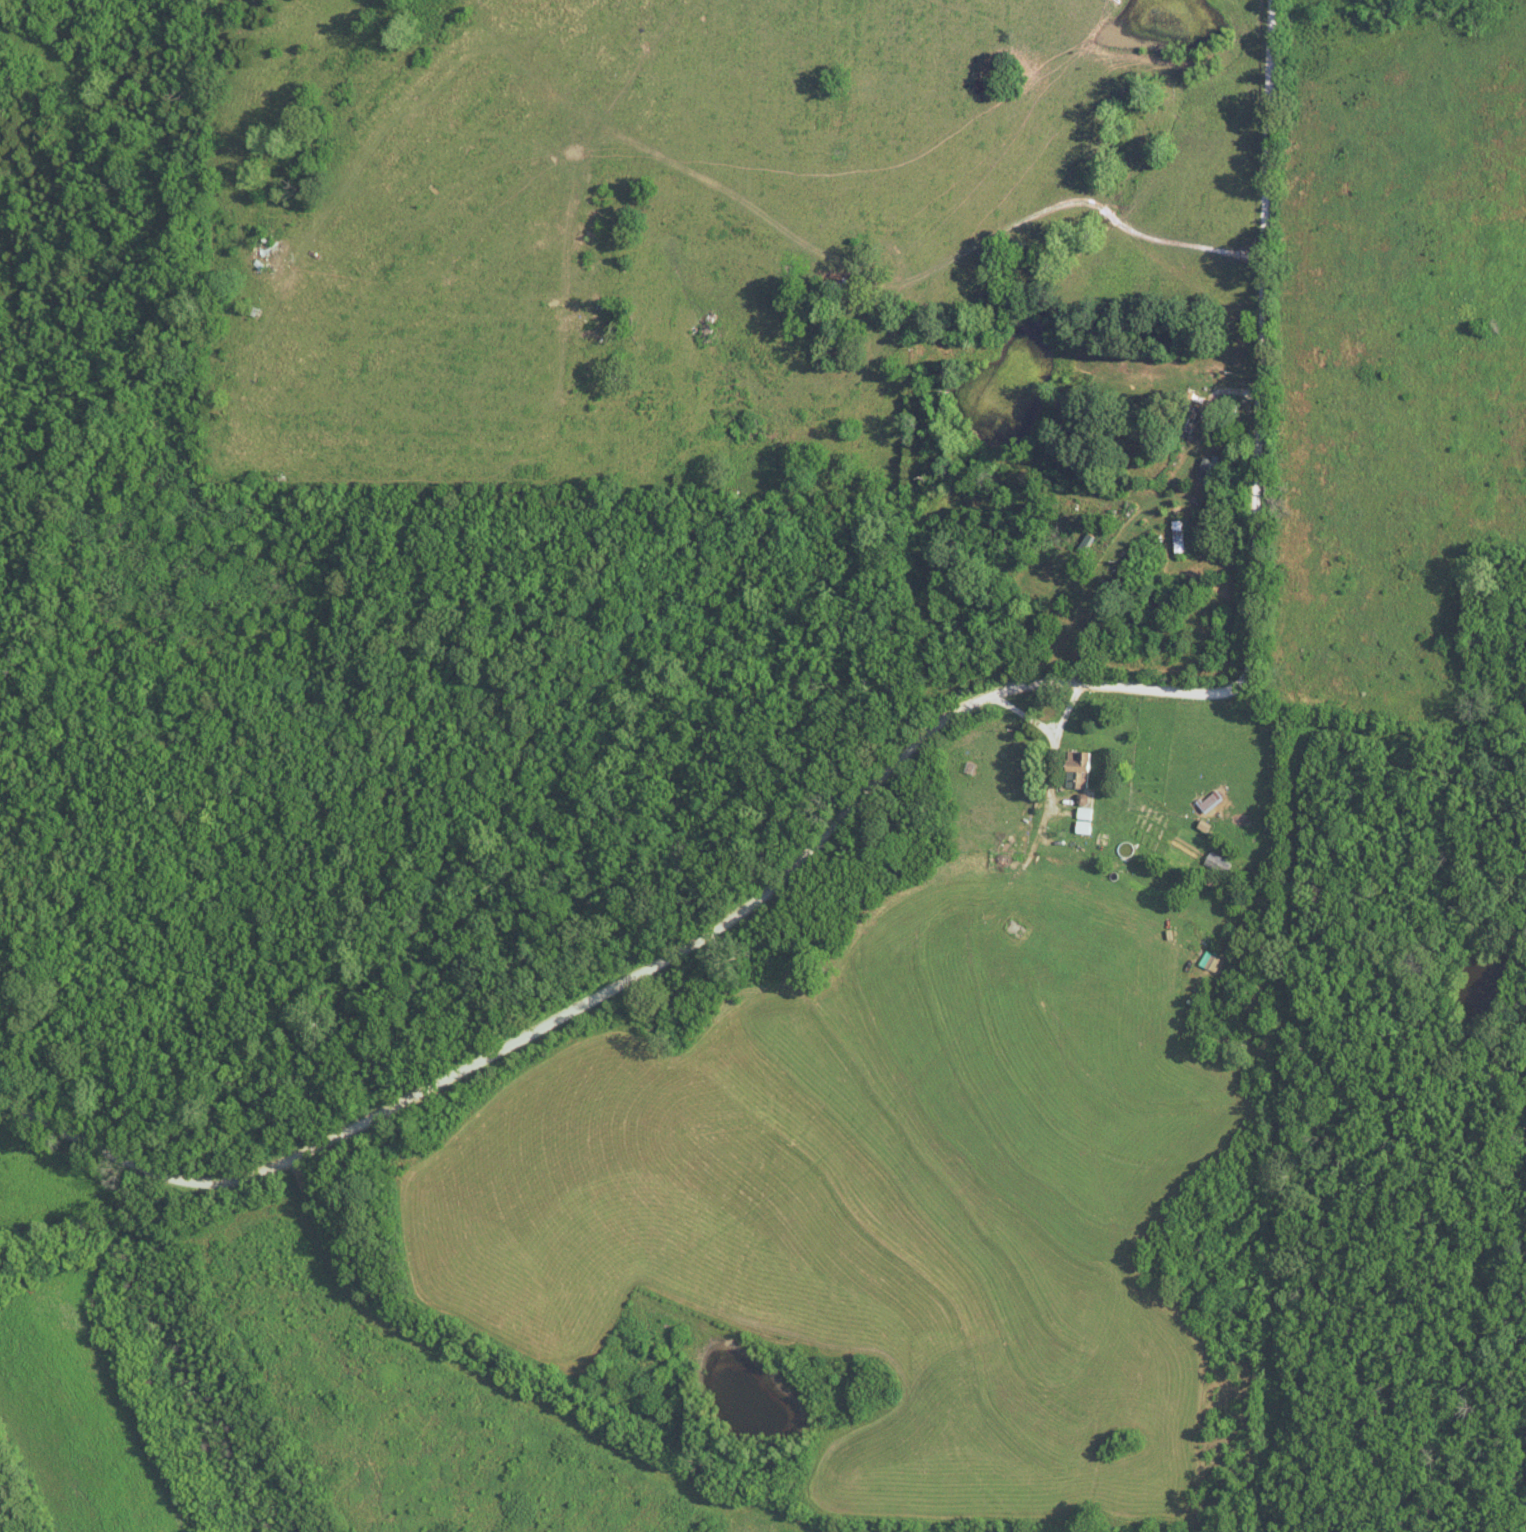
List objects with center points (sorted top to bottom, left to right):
road: (864, 283)
road: (904, 757)
building: (1078, 767)
building: (1209, 801)
road: (997, 928)
building: (1017, 928)
road: (839, 1076)

